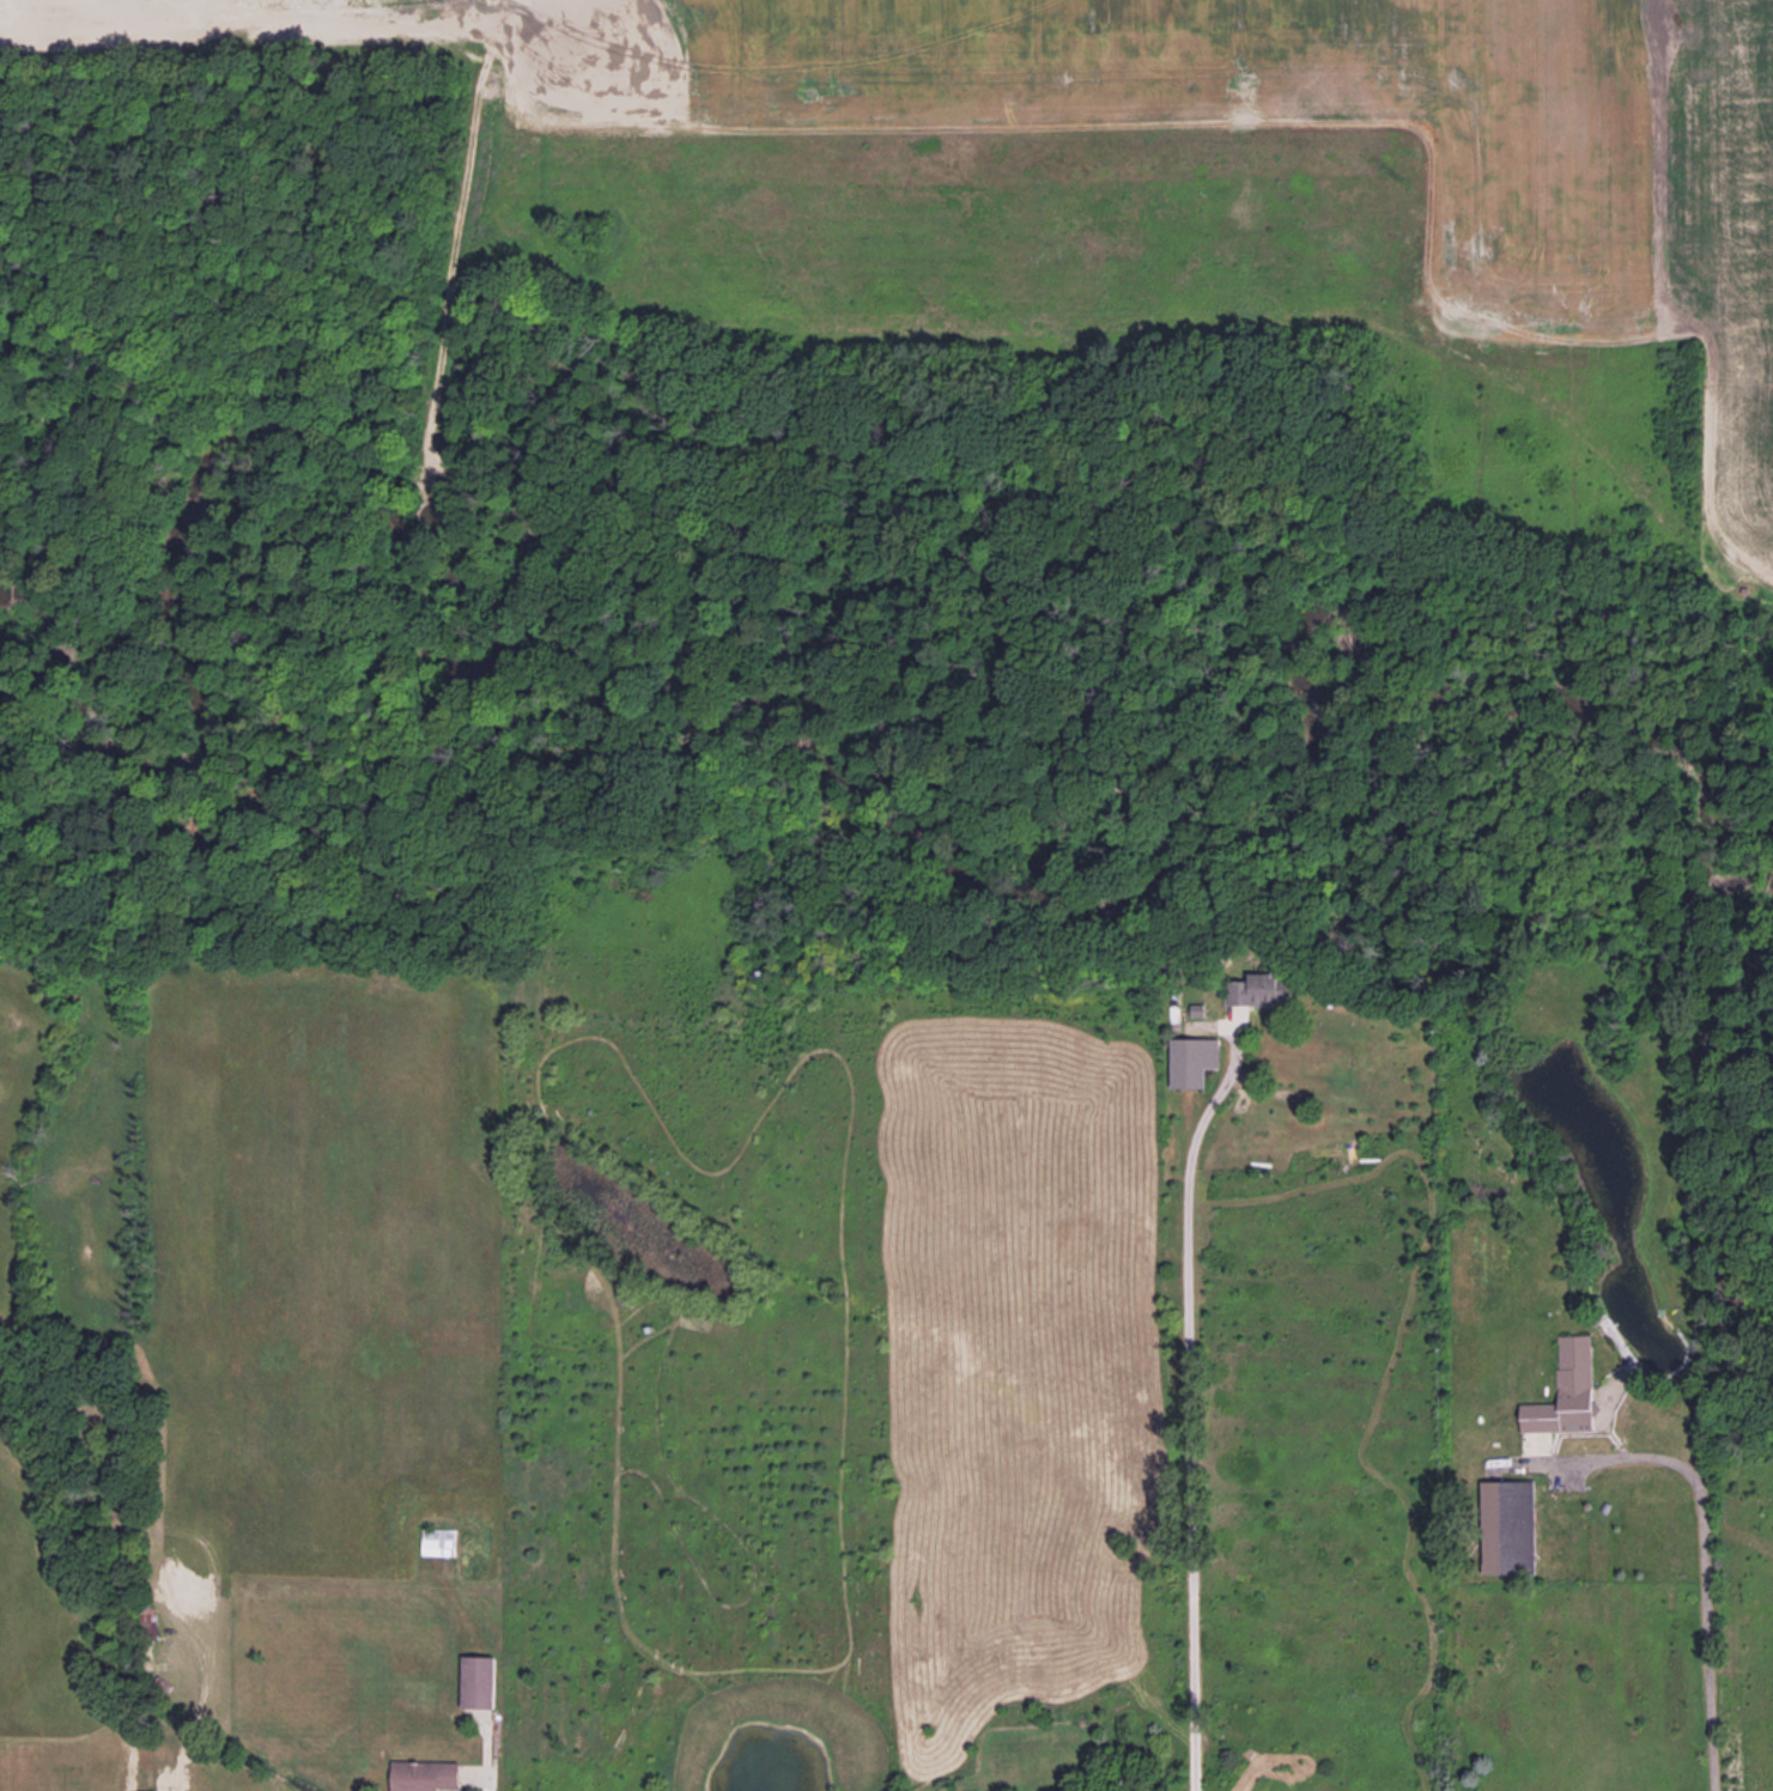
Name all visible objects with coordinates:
building: (1258, 990)
building: (1196, 1009)
building: (1191, 1061)
building: (1565, 1391)
road: (1188, 1402)
building: (1508, 1526)
building: (438, 1541)
road: (1704, 1574)
building: (478, 1682)
road: (481, 1755)
building: (423, 1775)

